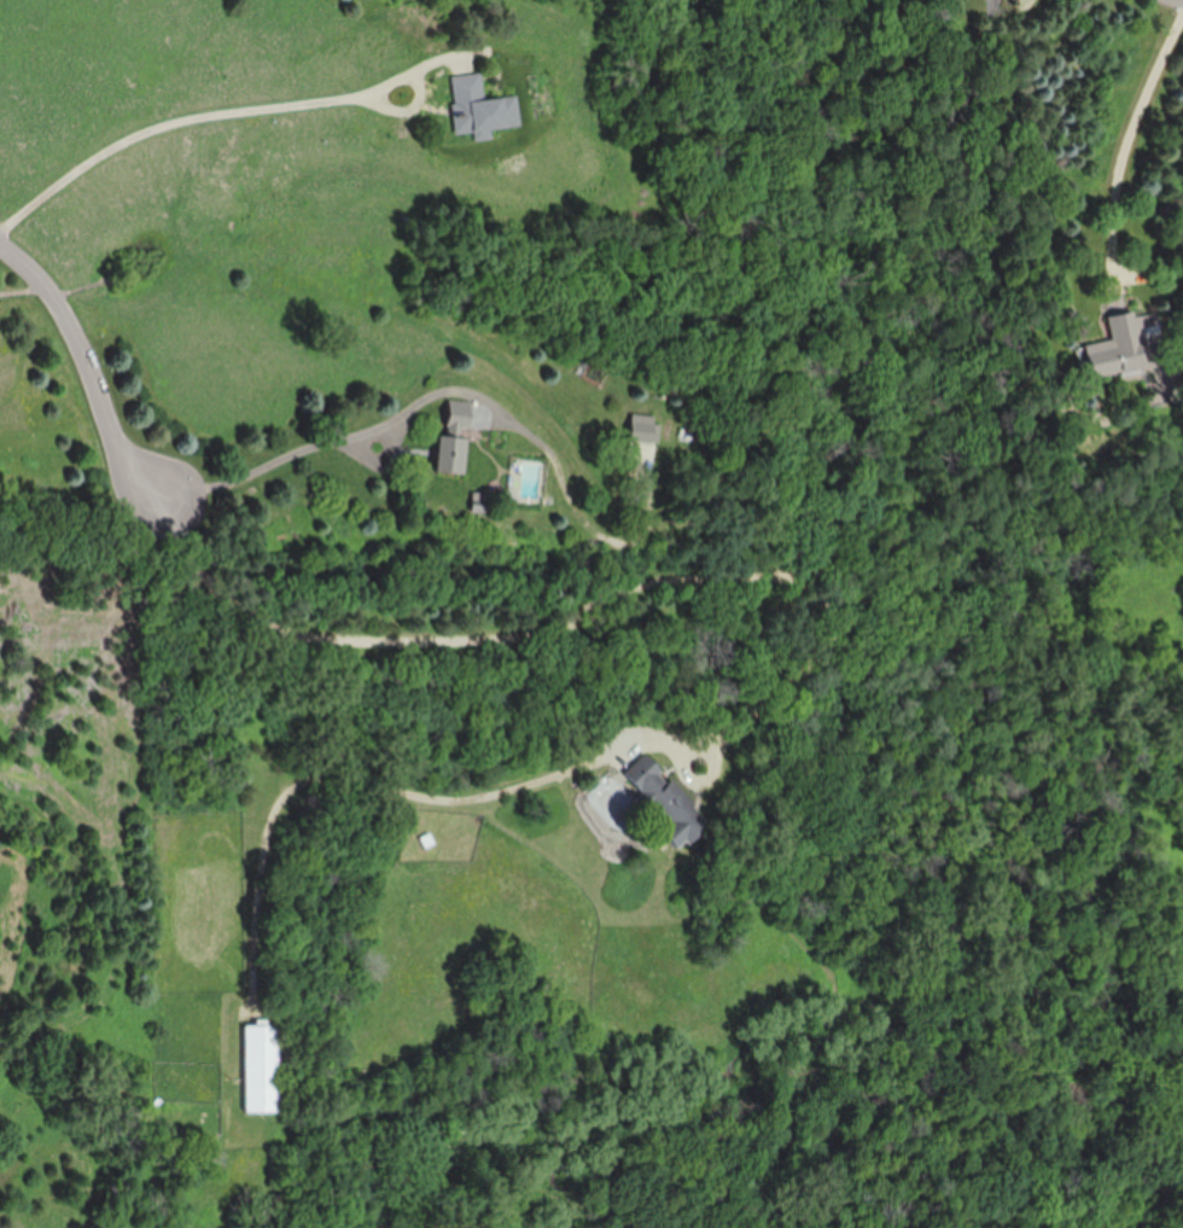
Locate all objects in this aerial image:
road: (401, 80)
building: (480, 109)
road: (168, 124)
road: (1129, 152)
building: (1117, 350)
road: (89, 368)
road: (385, 425)
building: (642, 429)
building: (454, 440)
road: (263, 467)
road: (493, 632)
road: (808, 673)
road: (299, 734)
road: (468, 803)
building: (663, 807)
building: (262, 1067)

